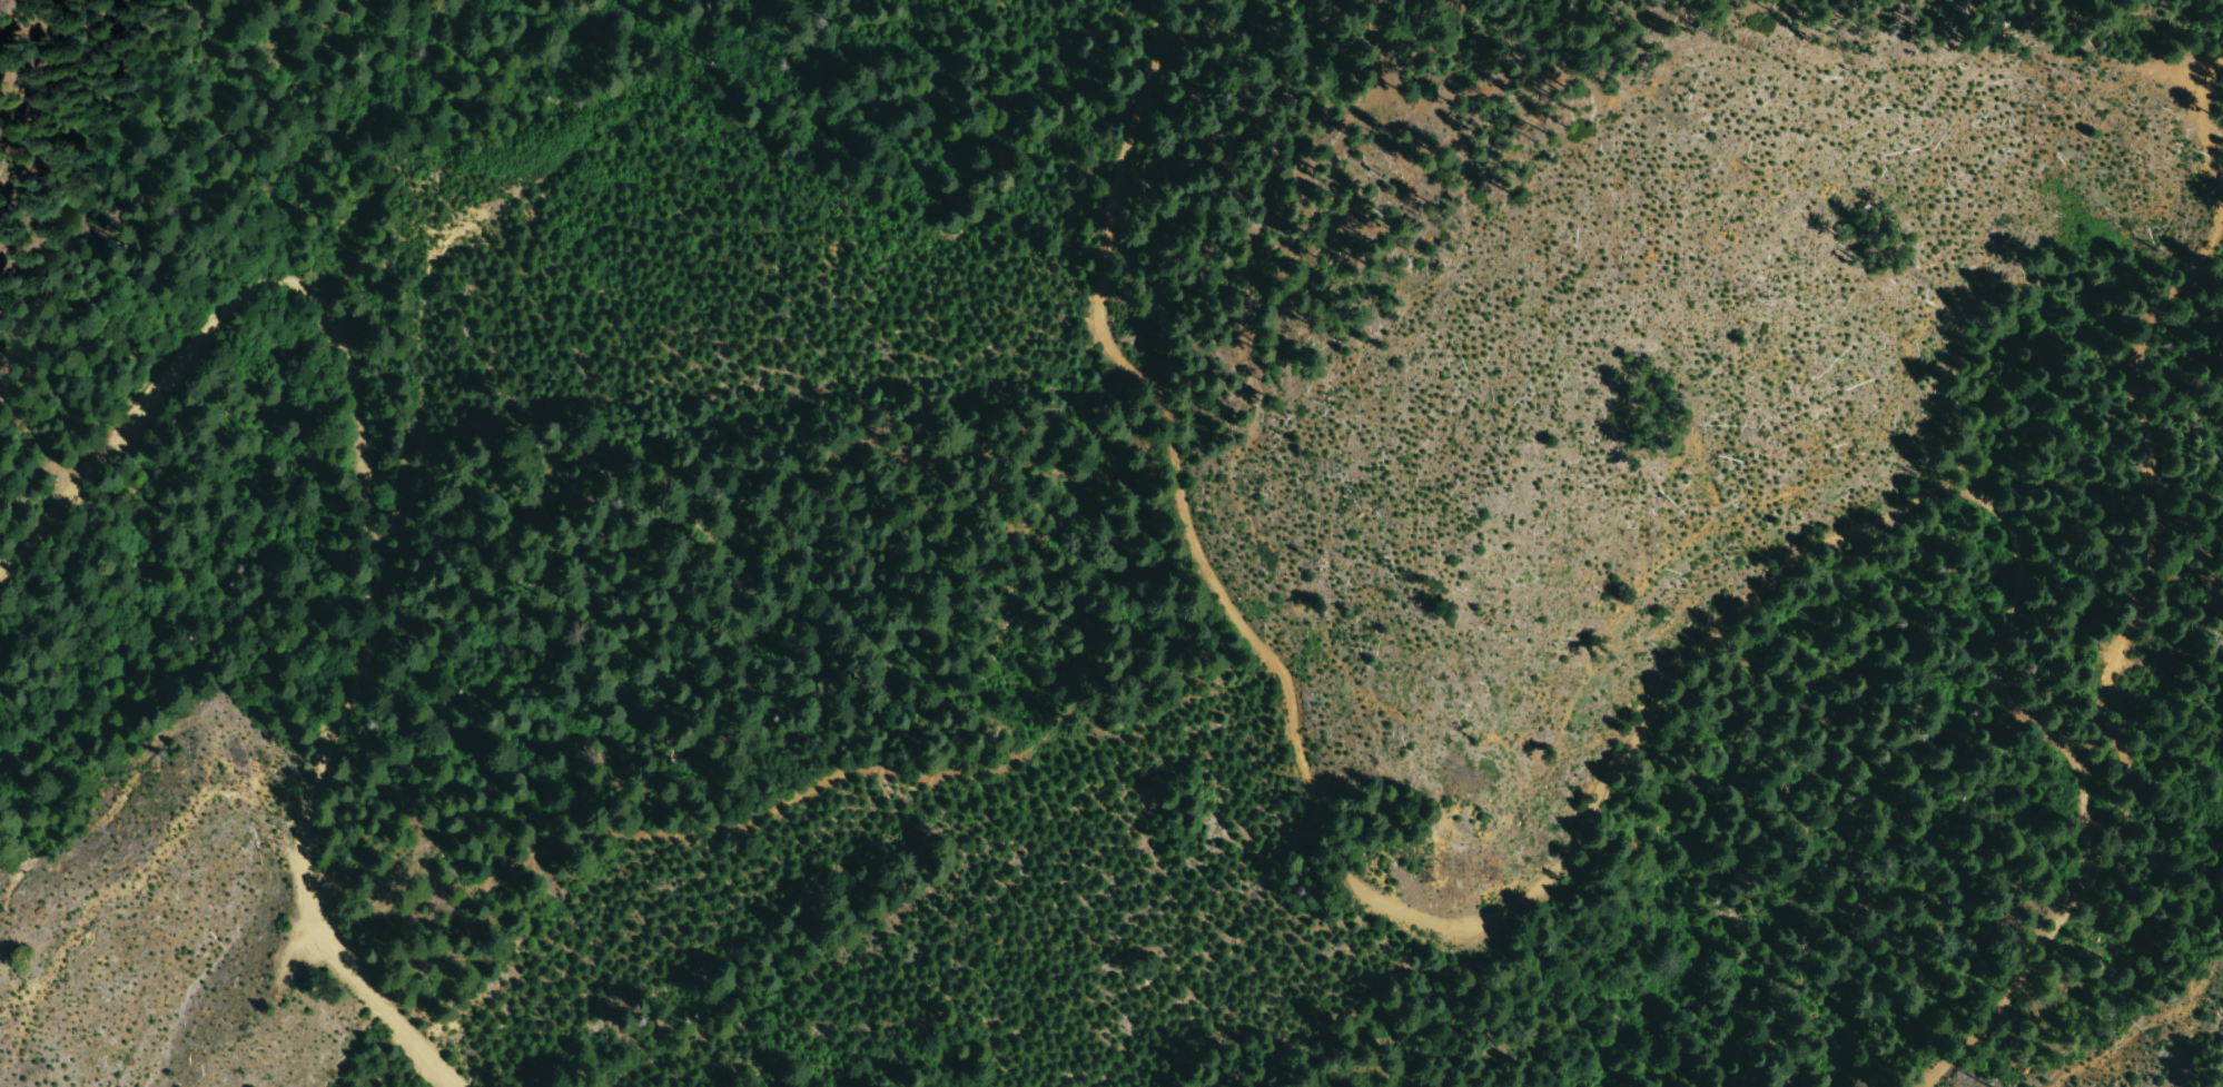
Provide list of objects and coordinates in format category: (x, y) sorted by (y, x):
road: (2089, 813)
road: (384, 997)

